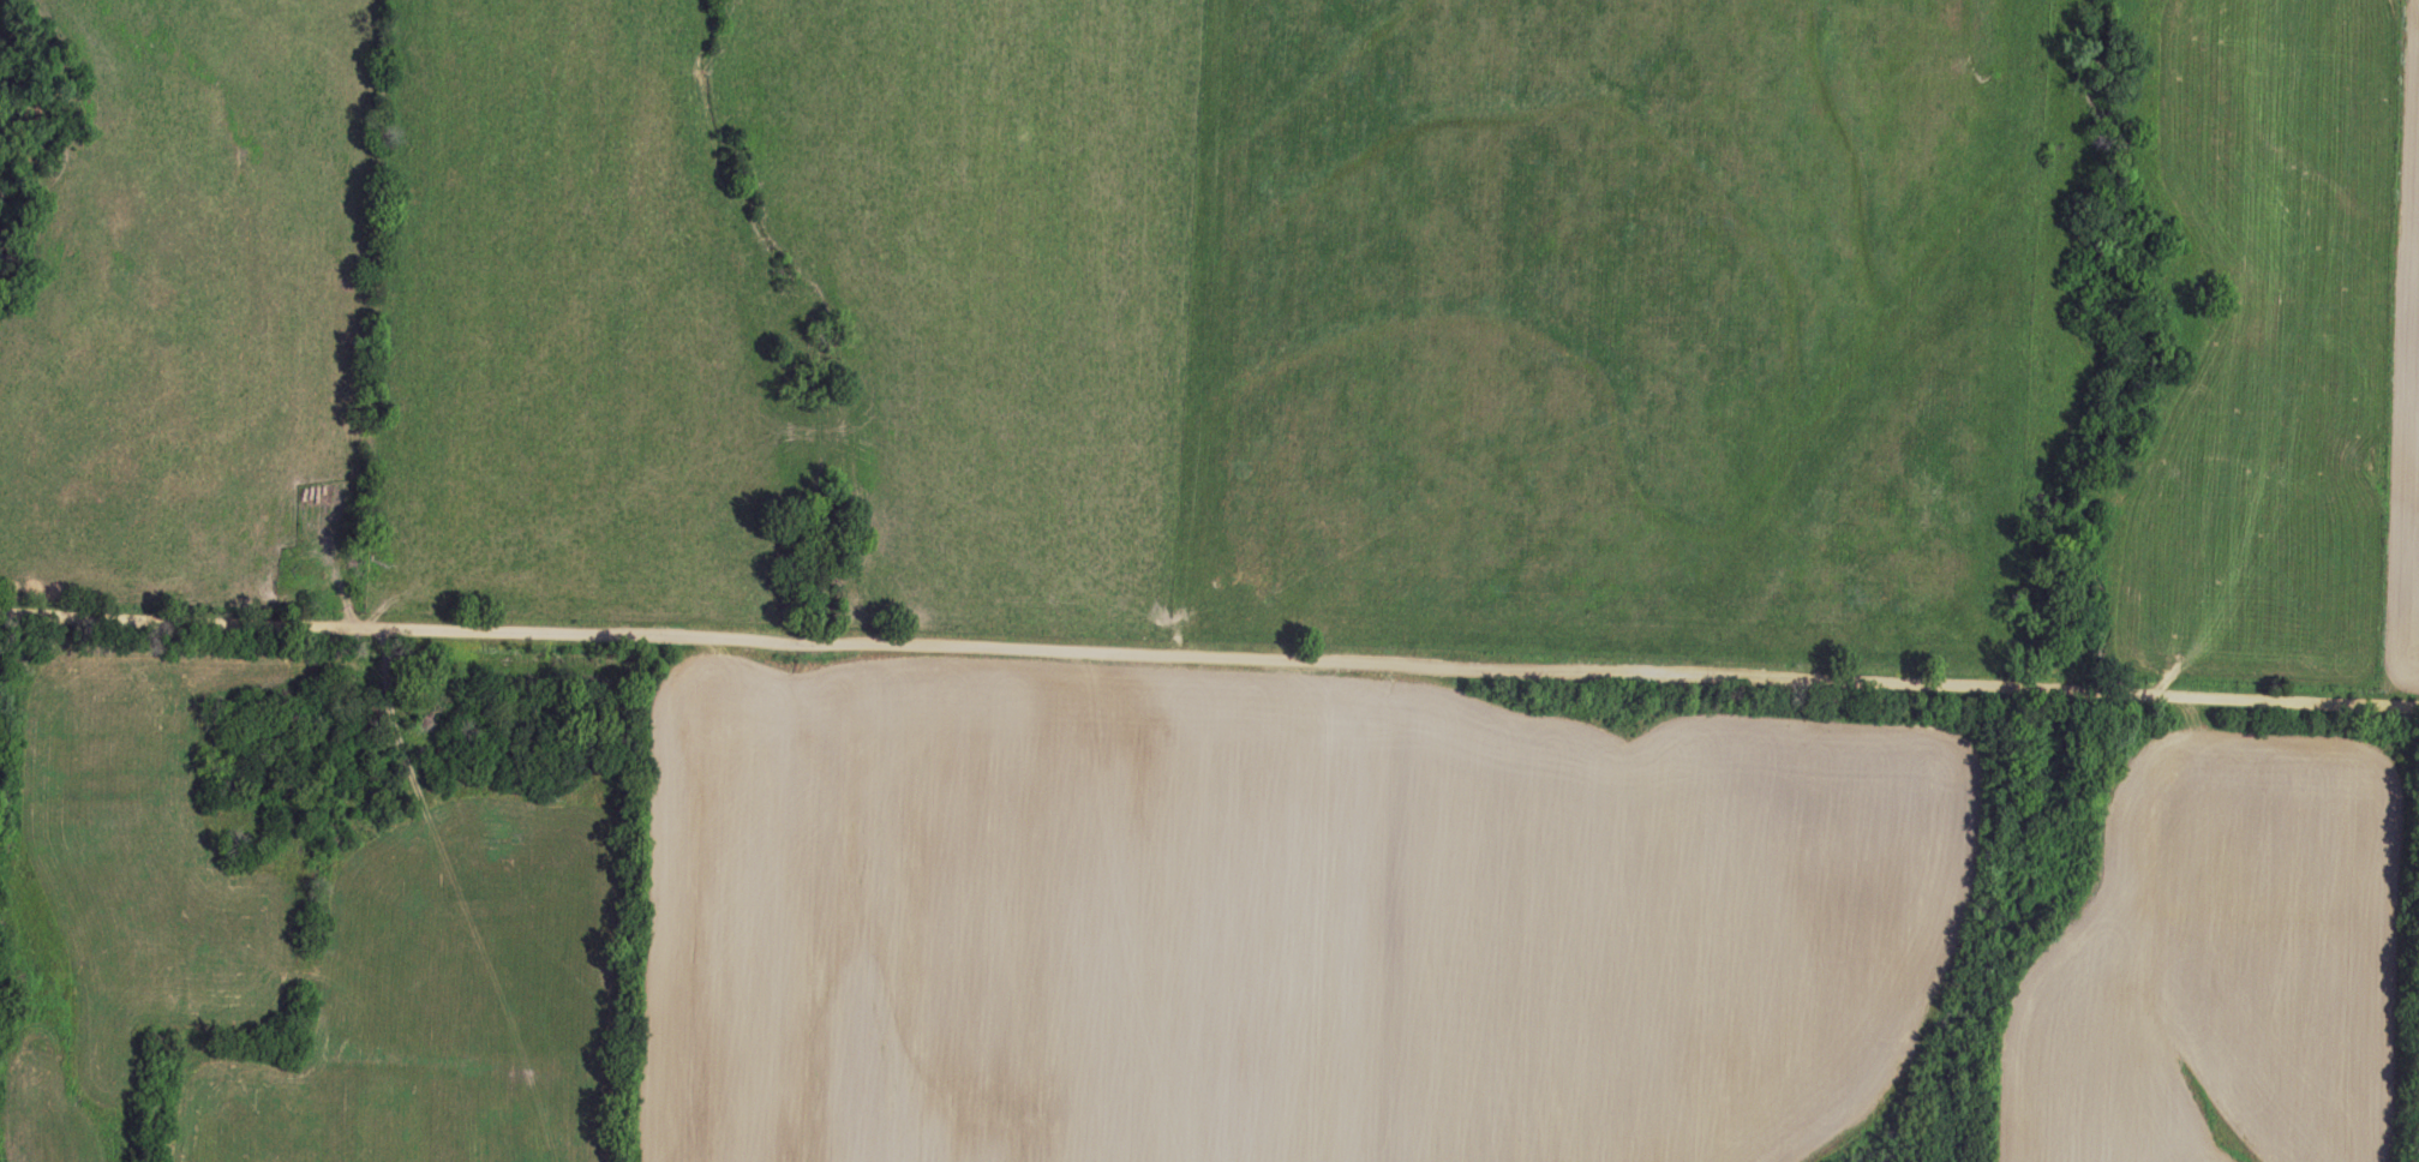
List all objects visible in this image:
road: (1209, 658)

